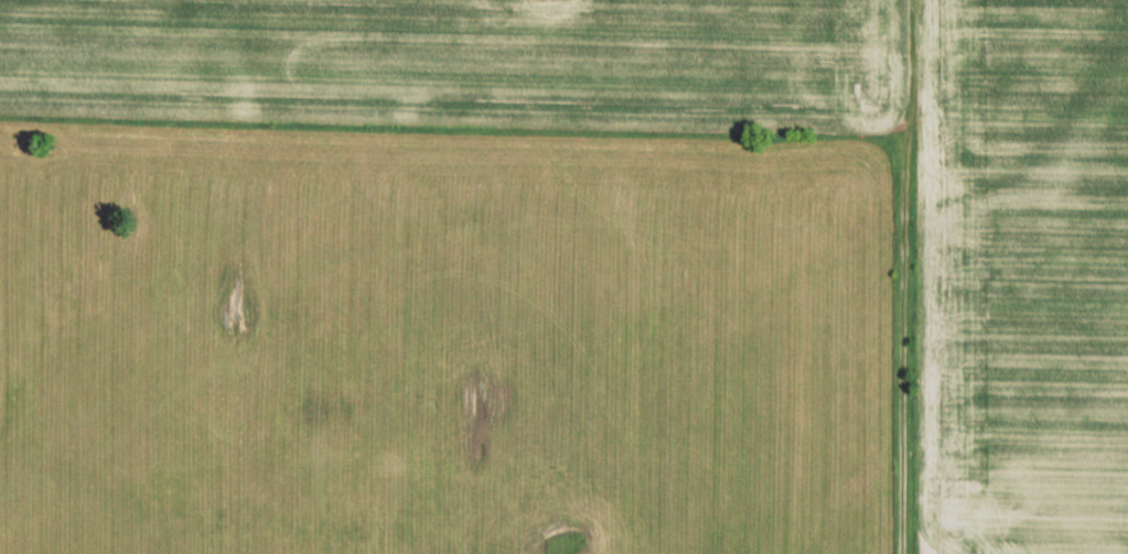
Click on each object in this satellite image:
road: (910, 276)

